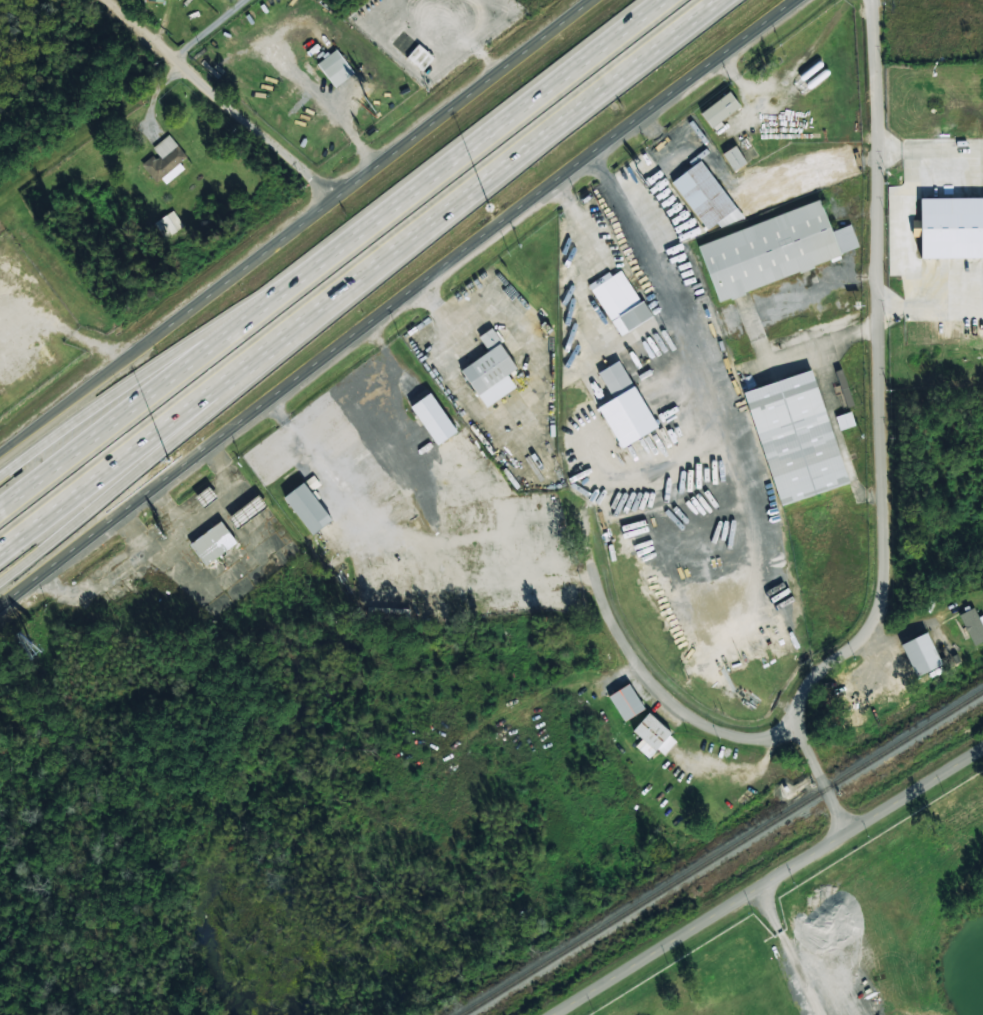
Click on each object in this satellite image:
road: (209, 29)
building: (420, 56)
building: (335, 68)
road: (220, 100)
building: (720, 109)
road: (407, 138)
building: (164, 158)
building: (734, 158)
building: (706, 197)
building: (168, 224)
building: (950, 227)
building: (774, 249)
road: (328, 253)
road: (354, 273)
road: (932, 296)
road: (393, 297)
building: (619, 301)
road: (155, 334)
building: (491, 370)
road: (880, 375)
road: (134, 379)
road: (224, 399)
building: (620, 404)
road: (717, 410)
building: (433, 418)
road: (42, 420)
building: (845, 420)
building: (797, 438)
building: (206, 496)
building: (307, 507)
building: (247, 511)
road: (586, 518)
building: (212, 543)
building: (973, 625)
building: (920, 654)
building: (626, 702)
building: (653, 736)
road: (818, 777)
railway: (721, 852)
road: (765, 882)
road: (791, 952)

